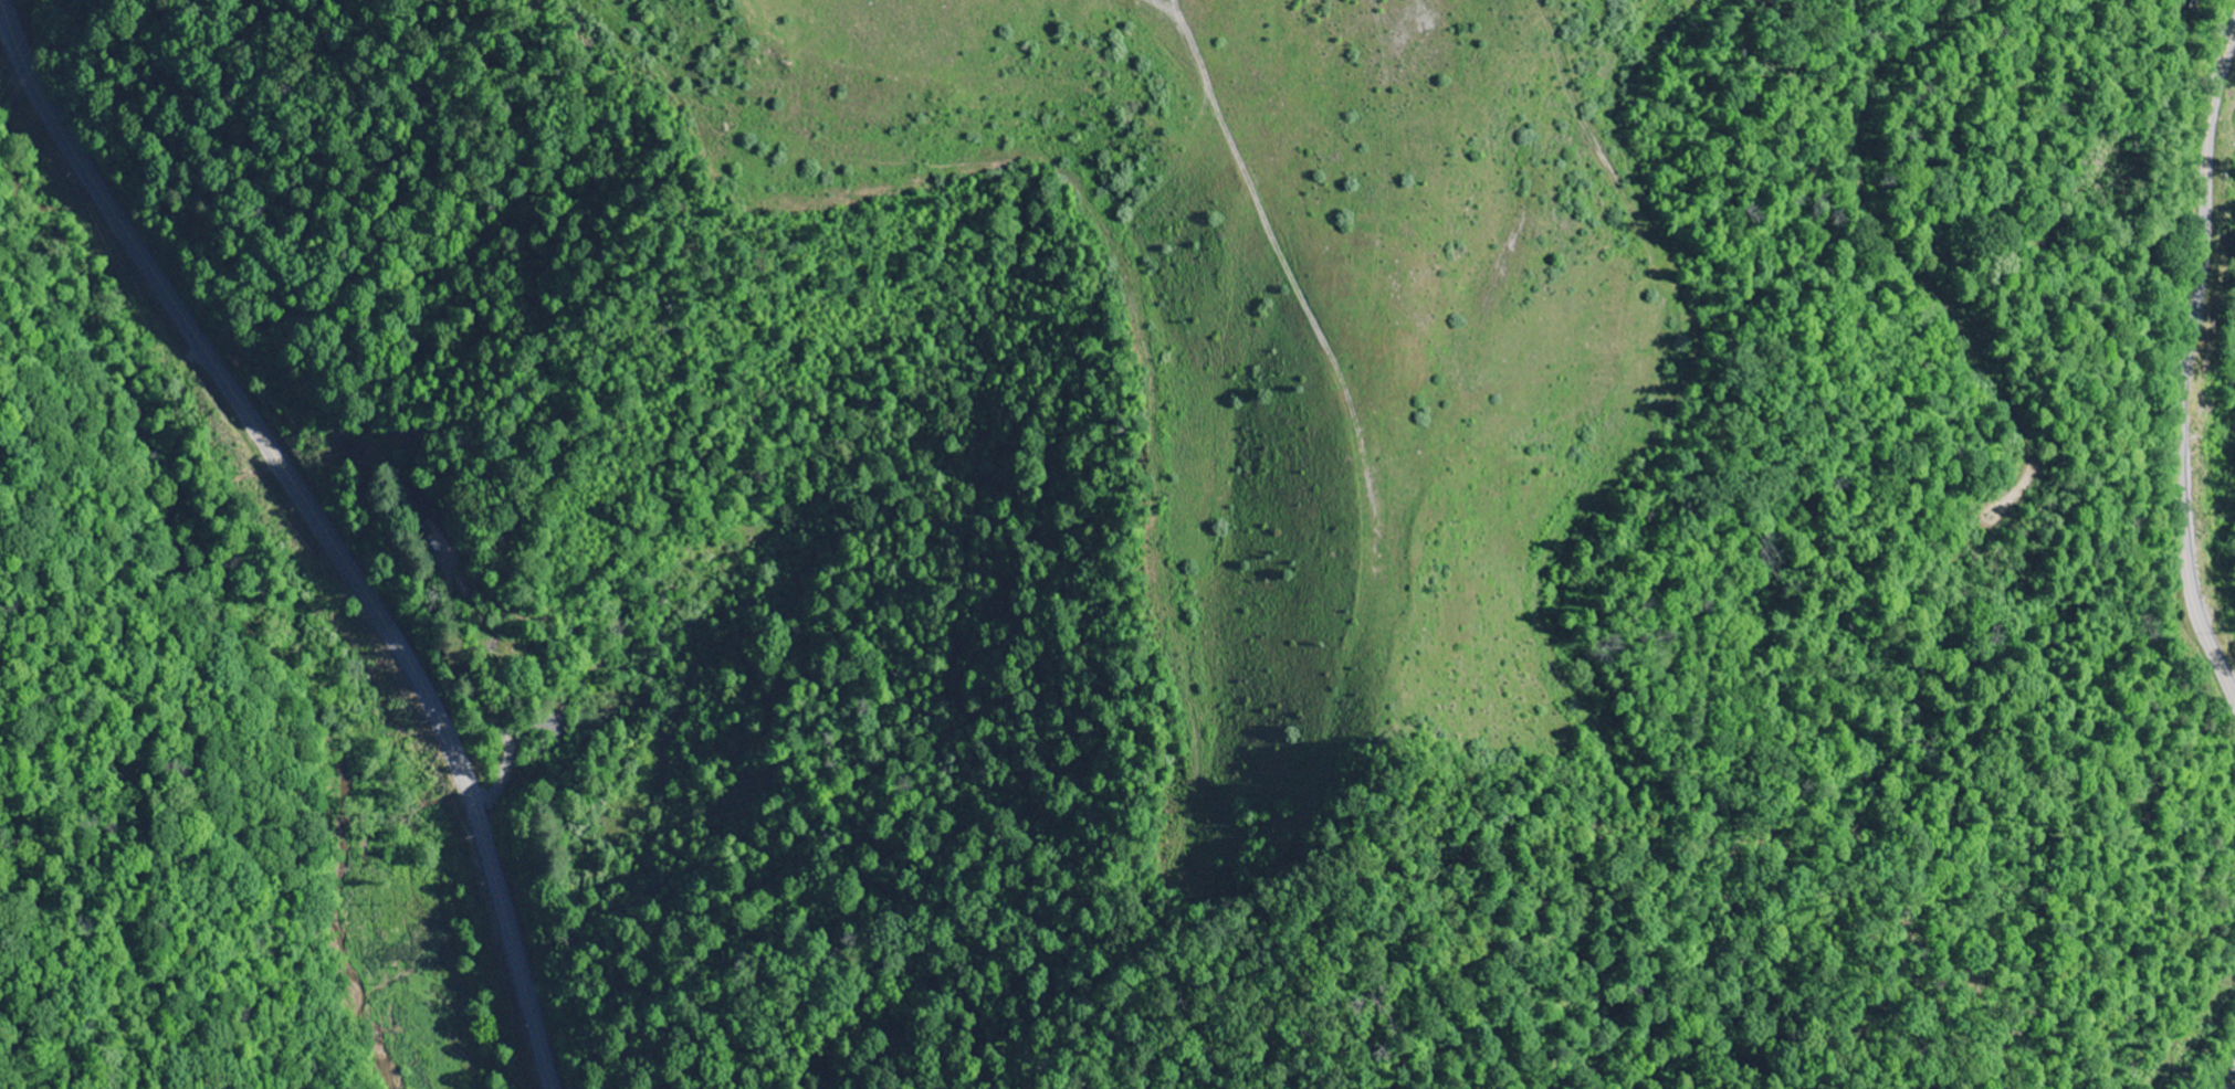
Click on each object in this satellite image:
road: (2184, 366)
building: (417, 505)
road: (321, 525)
road: (2232, 1080)

